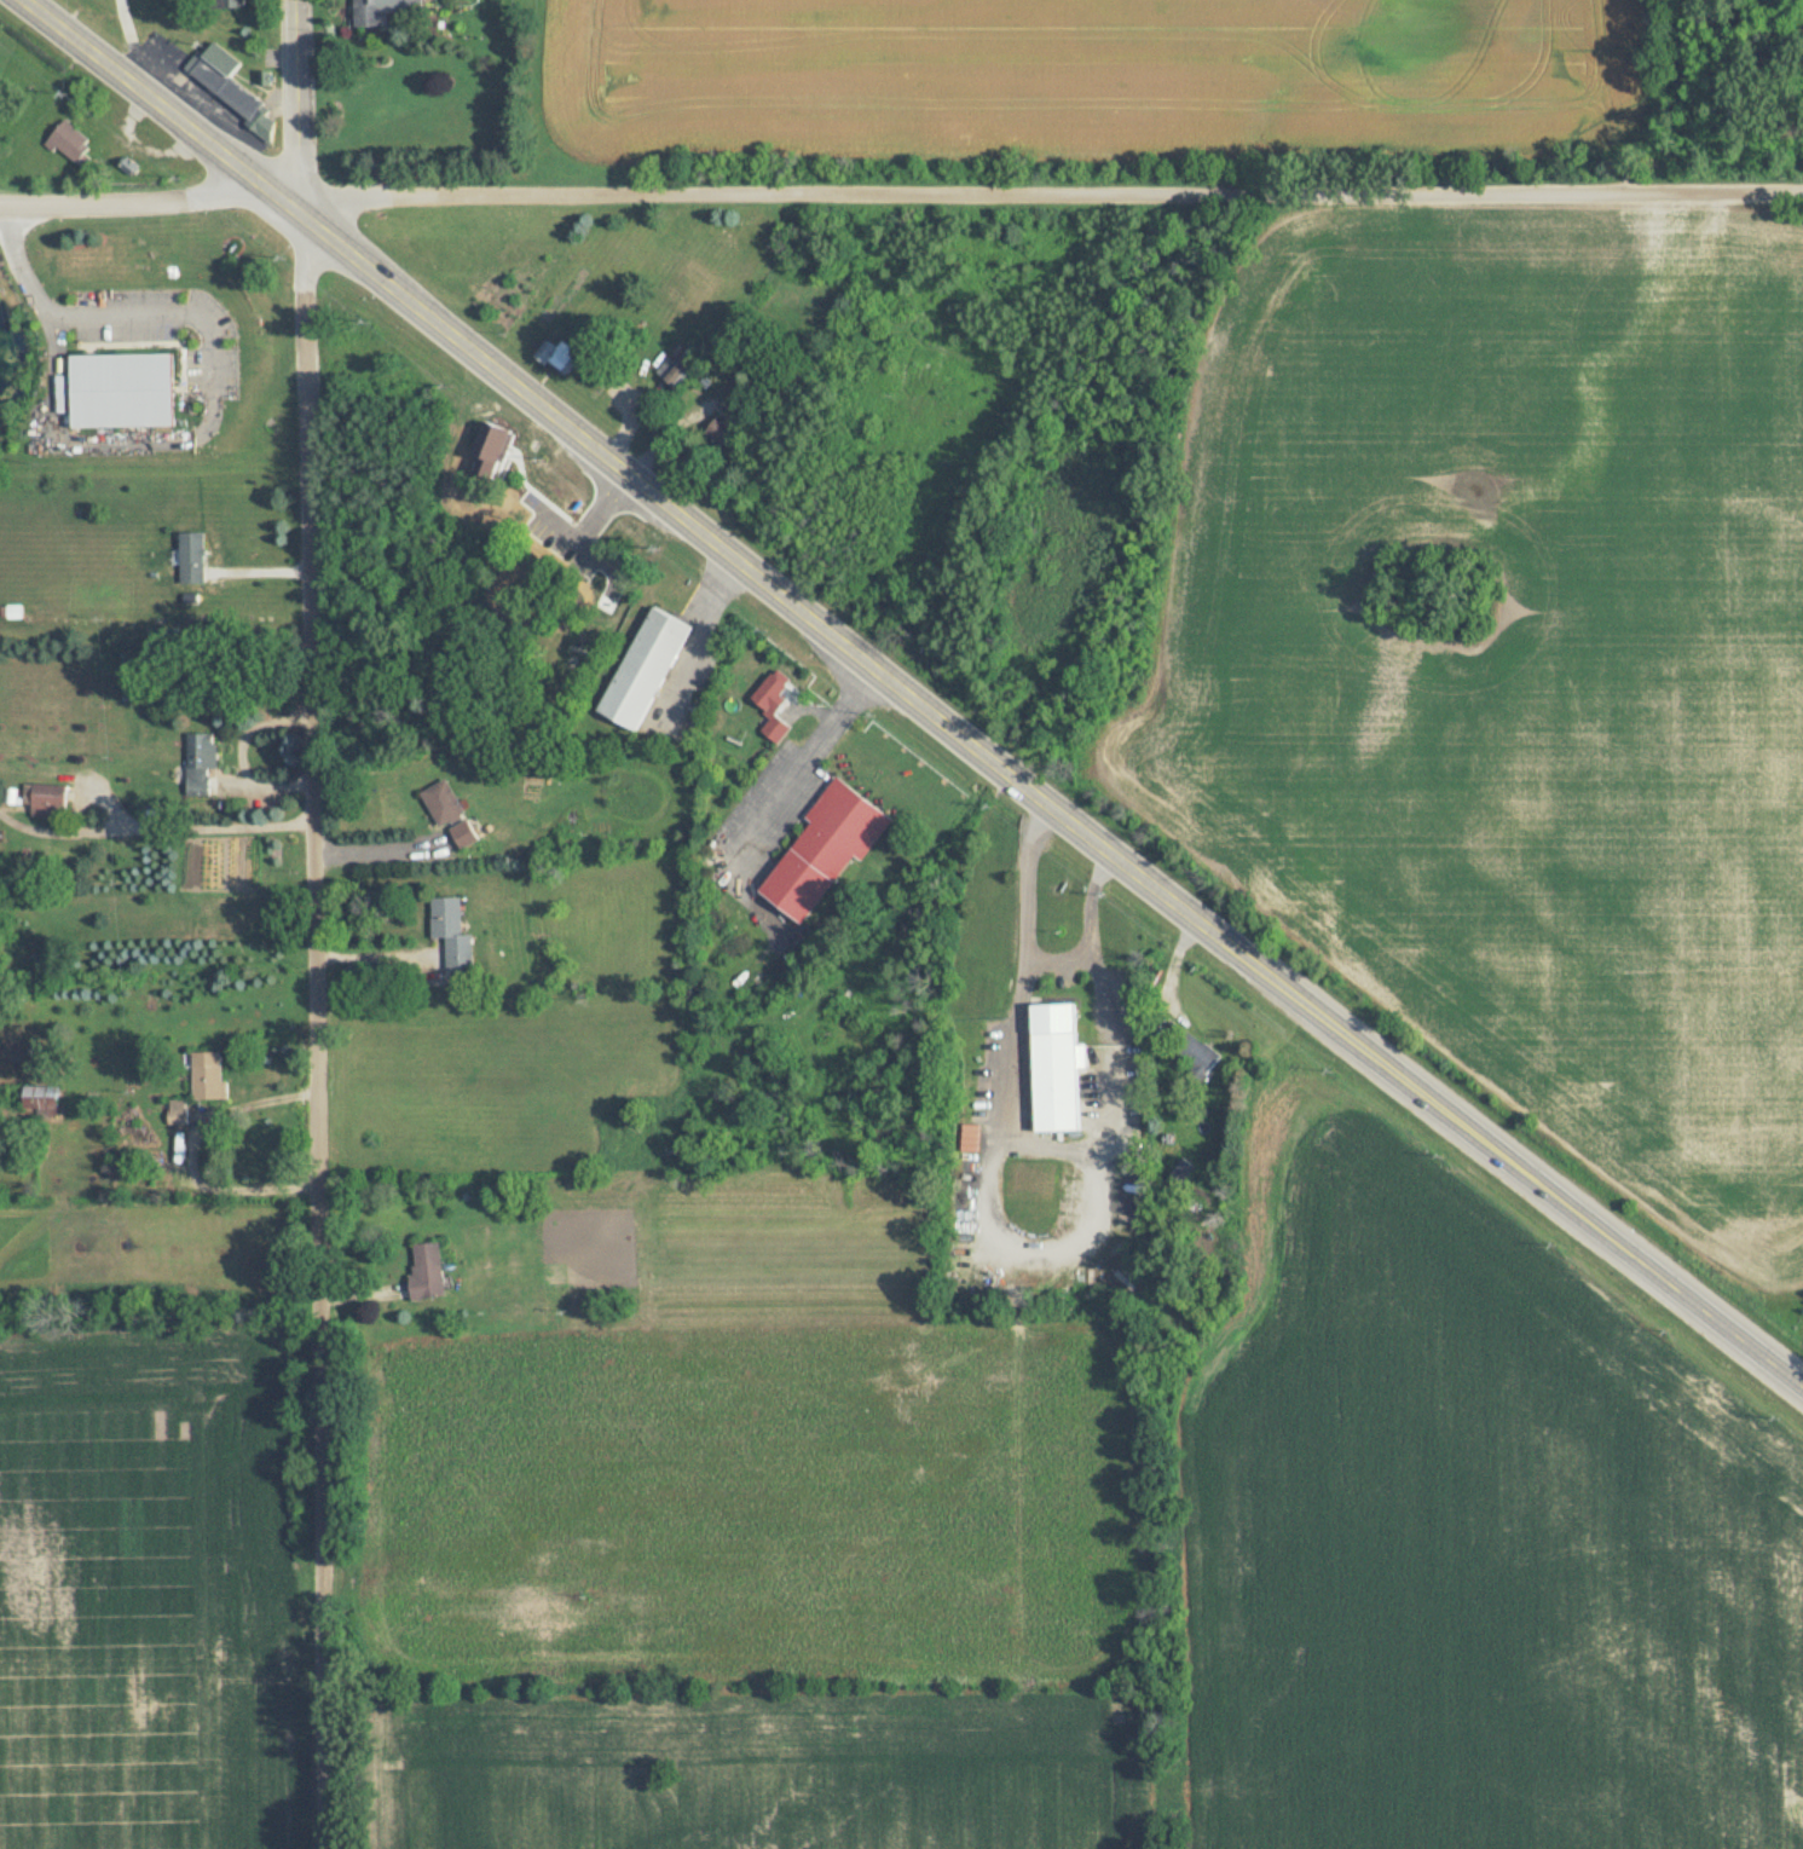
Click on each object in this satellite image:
building: (231, 4)
building: (378, 10)
building: (232, 87)
road: (901, 197)
building: (507, 297)
building: (560, 356)
road: (210, 369)
building: (671, 372)
building: (120, 391)
building: (720, 432)
building: (491, 444)
building: (192, 557)
road: (699, 632)
building: (643, 669)
road: (918, 688)
building: (773, 703)
road: (809, 749)
building: (200, 762)
building: (48, 801)
building: (443, 803)
road: (200, 831)
building: (463, 834)
road: (376, 848)
building: (825, 848)
road: (310, 924)
building: (452, 932)
road: (376, 953)
road: (1019, 970)
building: (1194, 1053)
building: (1054, 1065)
building: (208, 1076)
building: (40, 1097)
building: (177, 1113)
road: (197, 1150)
building: (427, 1270)

